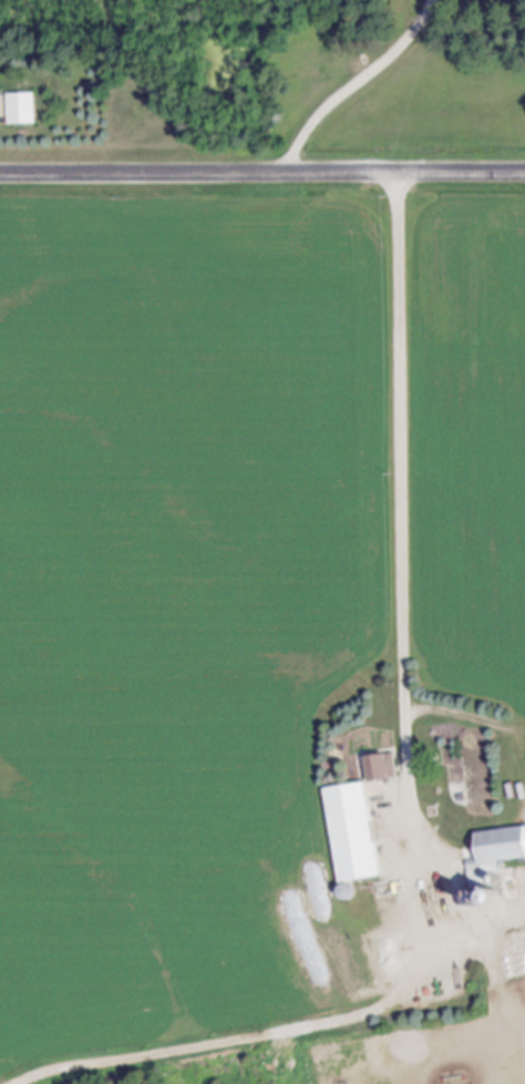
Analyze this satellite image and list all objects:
road: (358, 84)
building: (24, 110)
road: (262, 172)
building: (374, 767)
road: (405, 784)
building: (347, 834)
building: (494, 848)

